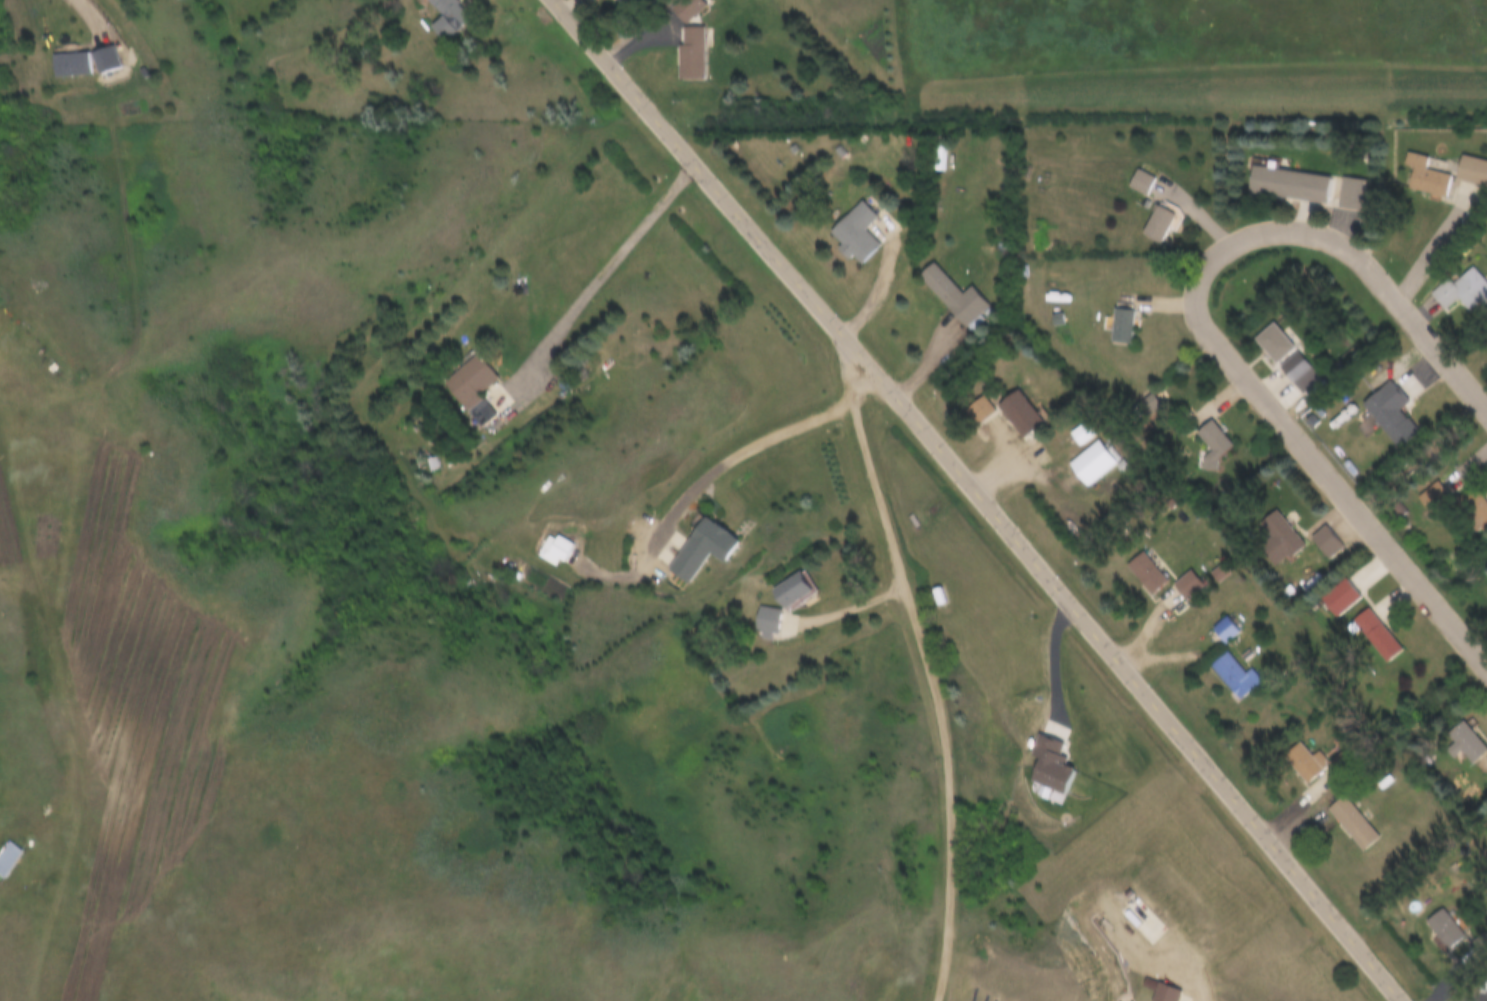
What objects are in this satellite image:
building: (632, 4)
building: (687, 8)
building: (444, 17)
building: (691, 52)
building: (74, 63)
building: (1473, 171)
building: (1427, 177)
building: (1141, 183)
building: (1290, 184)
building: (1353, 194)
building: (1158, 224)
building: (853, 233)
road: (605, 267)
building: (1464, 292)
building: (951, 295)
building: (1122, 326)
road: (1203, 334)
building: (1275, 342)
building: (1301, 372)
building: (472, 389)
building: (982, 406)
building: (1149, 407)
building: (1018, 412)
building: (1392, 413)
road: (734, 443)
building: (1215, 445)
building: (1092, 463)
road: (980, 495)
building: (1280, 538)
building: (1328, 539)
building: (702, 549)
building: (556, 551)
building: (1149, 573)
building: (1191, 586)
building: (789, 589)
building: (1344, 598)
road: (844, 607)
building: (765, 623)
building: (1229, 629)
building: (1382, 635)
road: (927, 665)
building: (1241, 676)
building: (1467, 743)
building: (1319, 762)
building: (1358, 822)
building: (12, 859)
building: (1447, 927)
road: (29, 947)
building: (1485, 986)

